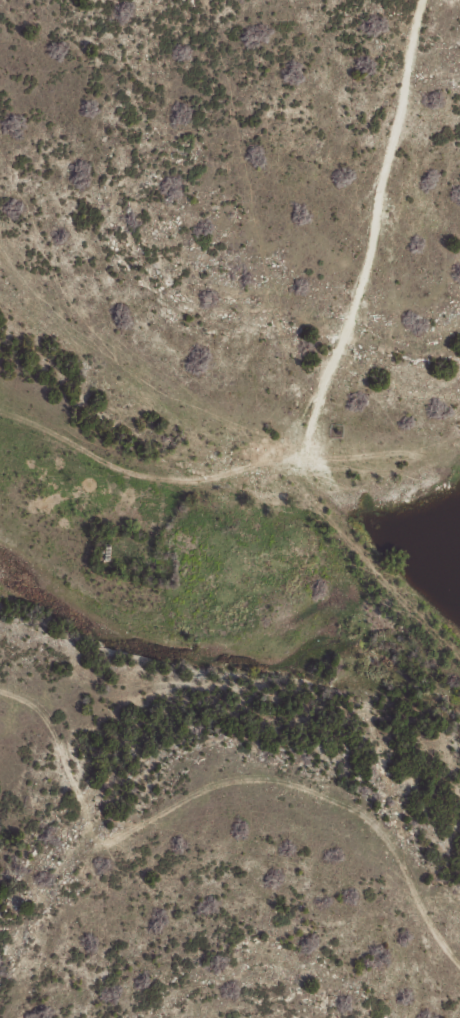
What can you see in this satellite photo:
road: (315, 342)
road: (216, 818)

